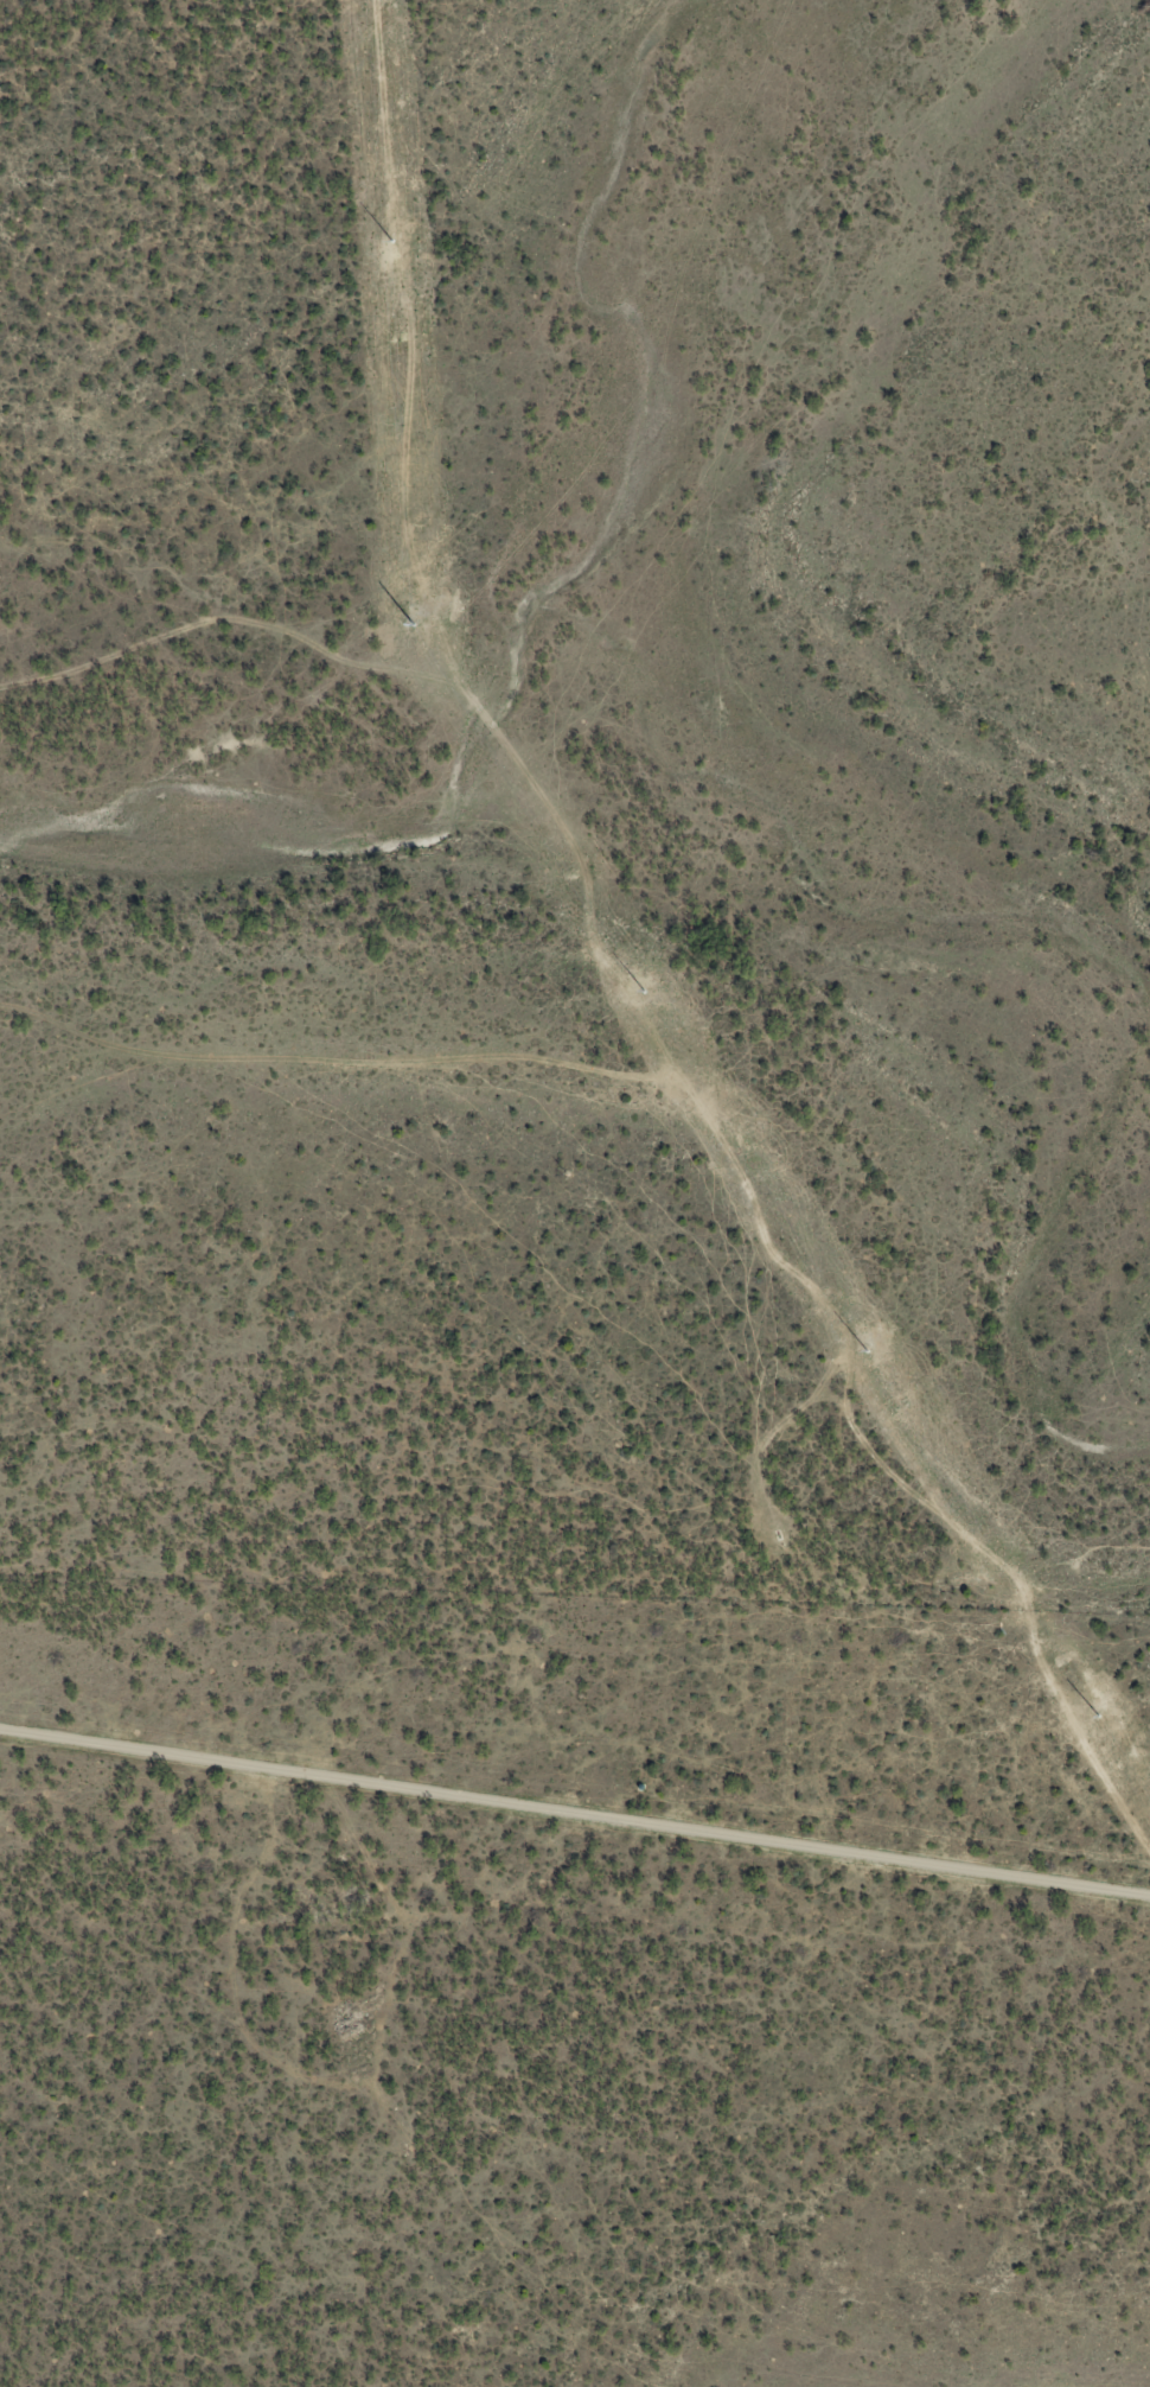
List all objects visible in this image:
power tower: (398, 343)
power tower: (416, 630)
power tower: (573, 878)
power tower: (742, 1153)
power tower: (903, 1408)
power tower: (1062, 1663)
road: (575, 1814)

